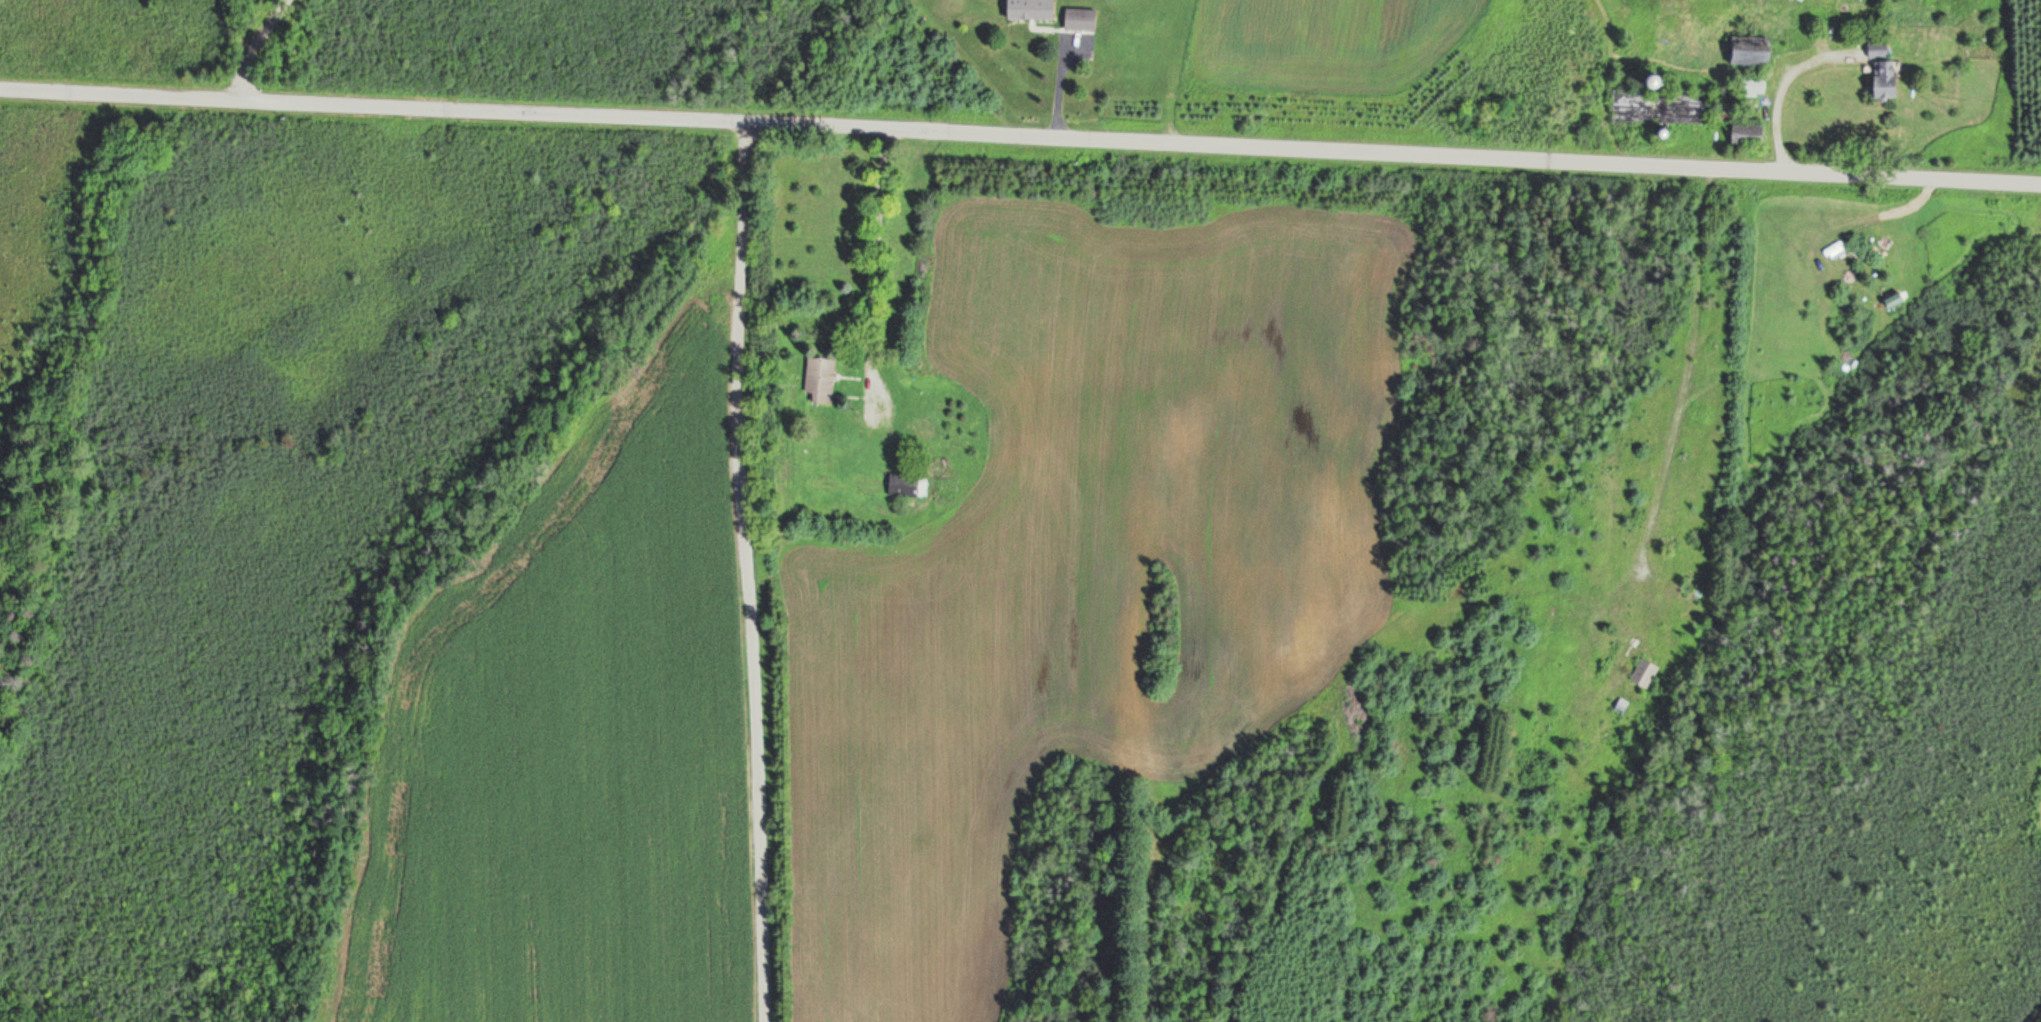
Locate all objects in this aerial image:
road: (1057, 95)
road: (1777, 96)
road: (1020, 134)
road: (871, 253)
road: (1687, 367)
road: (743, 571)

